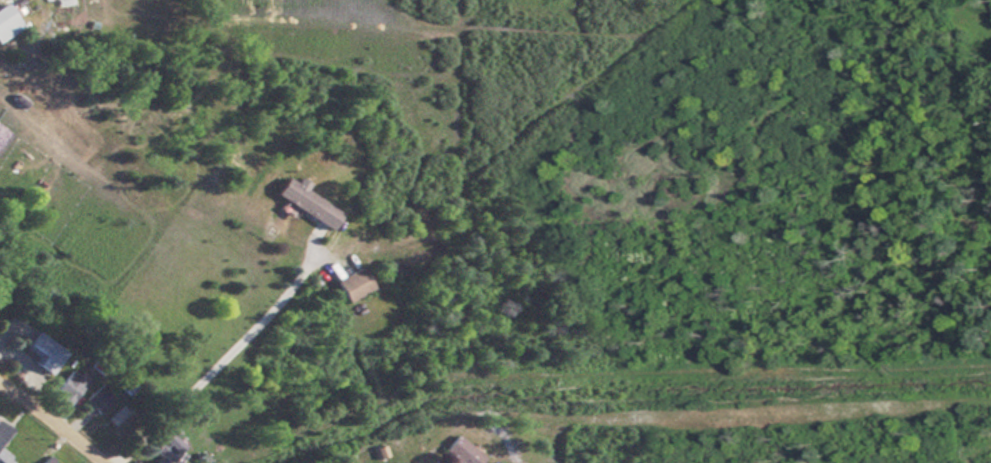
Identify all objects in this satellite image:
building: (7, 21)
building: (307, 201)
building: (354, 283)
building: (47, 348)
road: (222, 355)
building: (68, 387)
building: (99, 398)
road: (51, 424)
building: (3, 431)
building: (461, 451)
building: (5, 457)
building: (199, 459)

